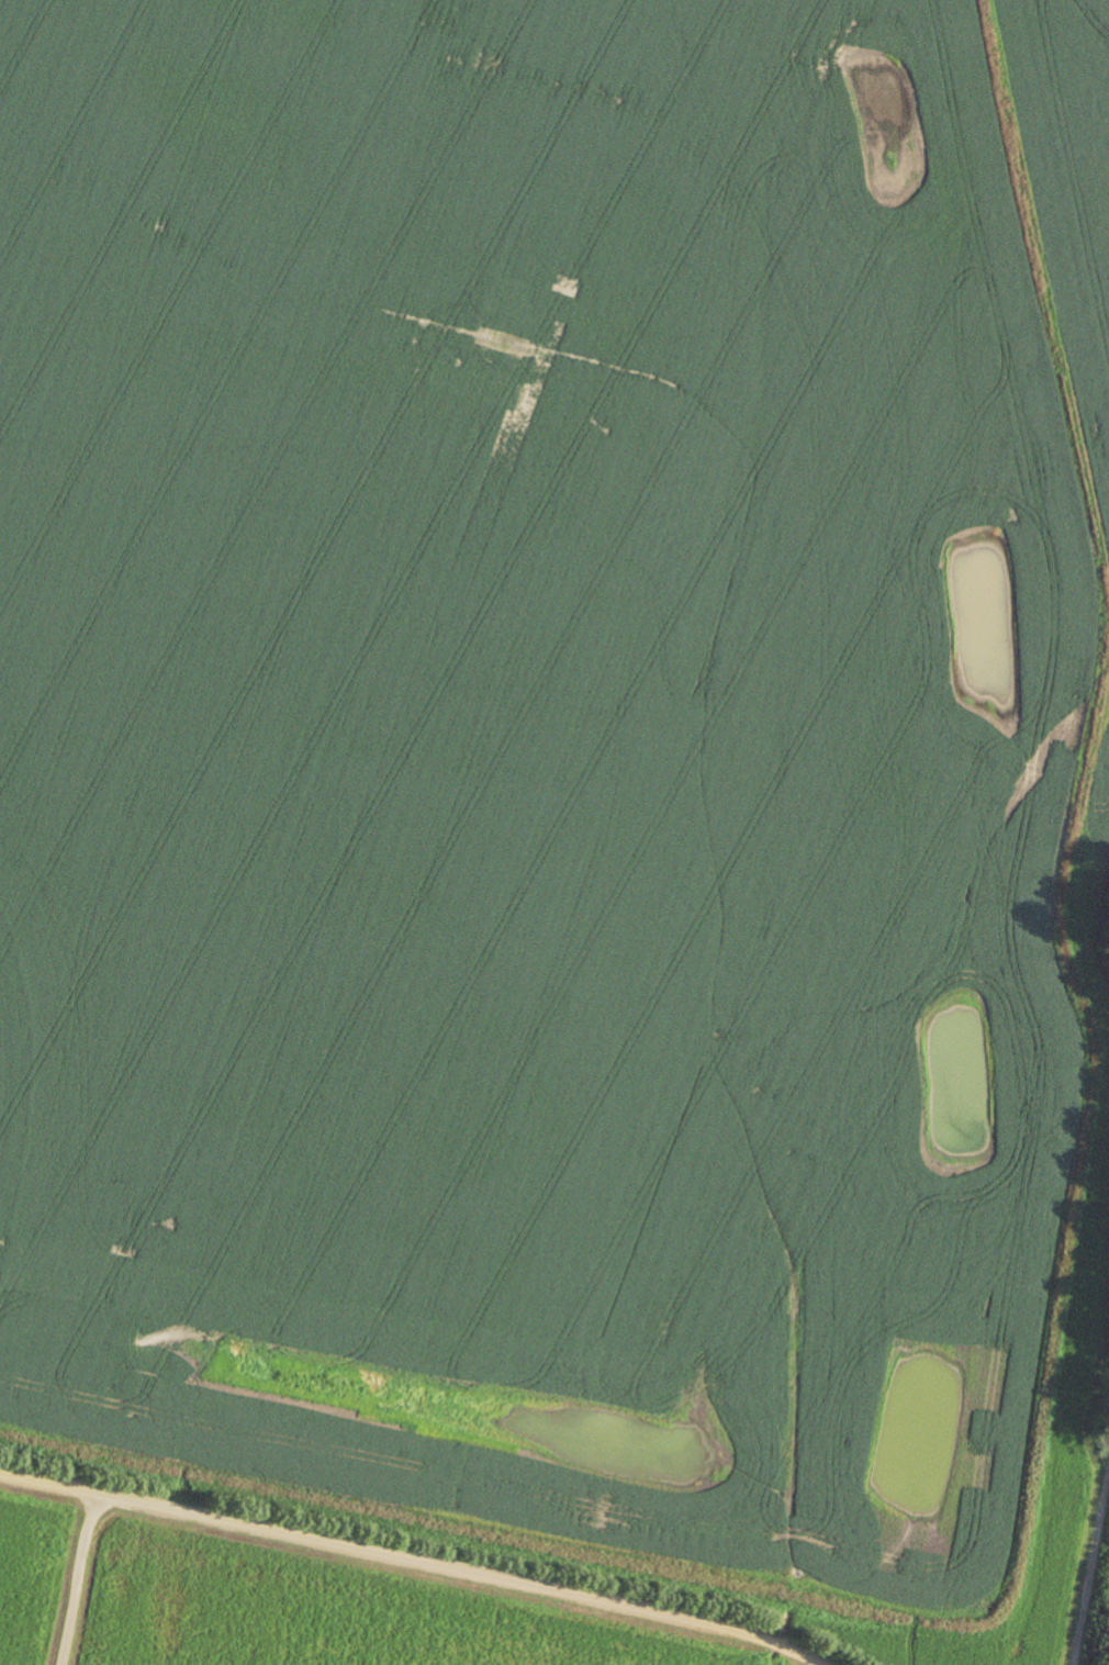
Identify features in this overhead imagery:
road: (413, 1561)

